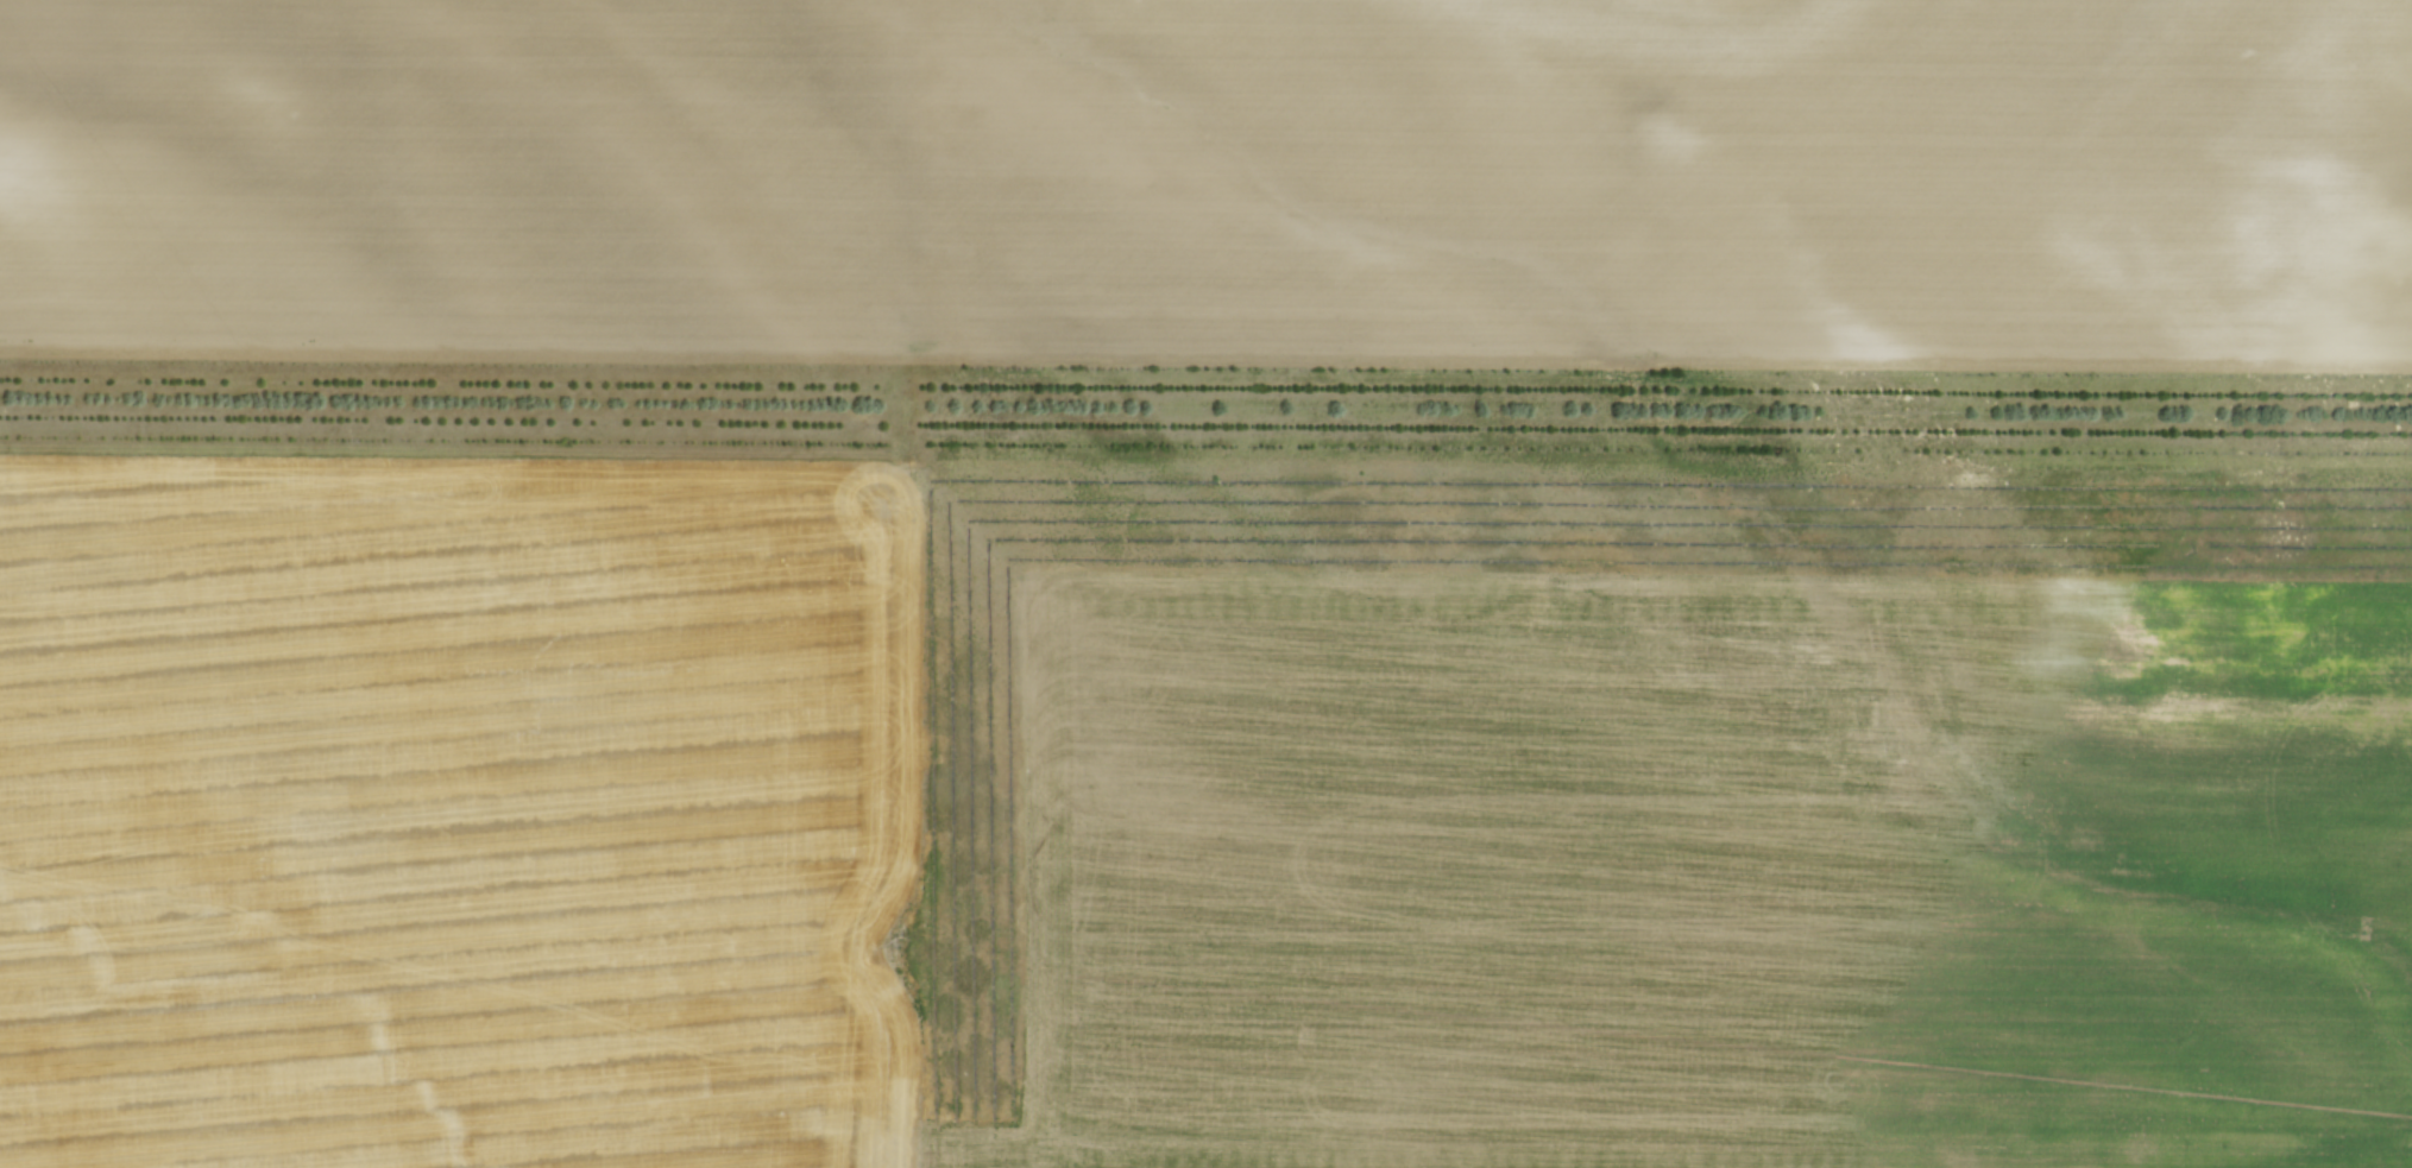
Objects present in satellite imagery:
crop: (1210, 178)
crop: (1202, 814)

